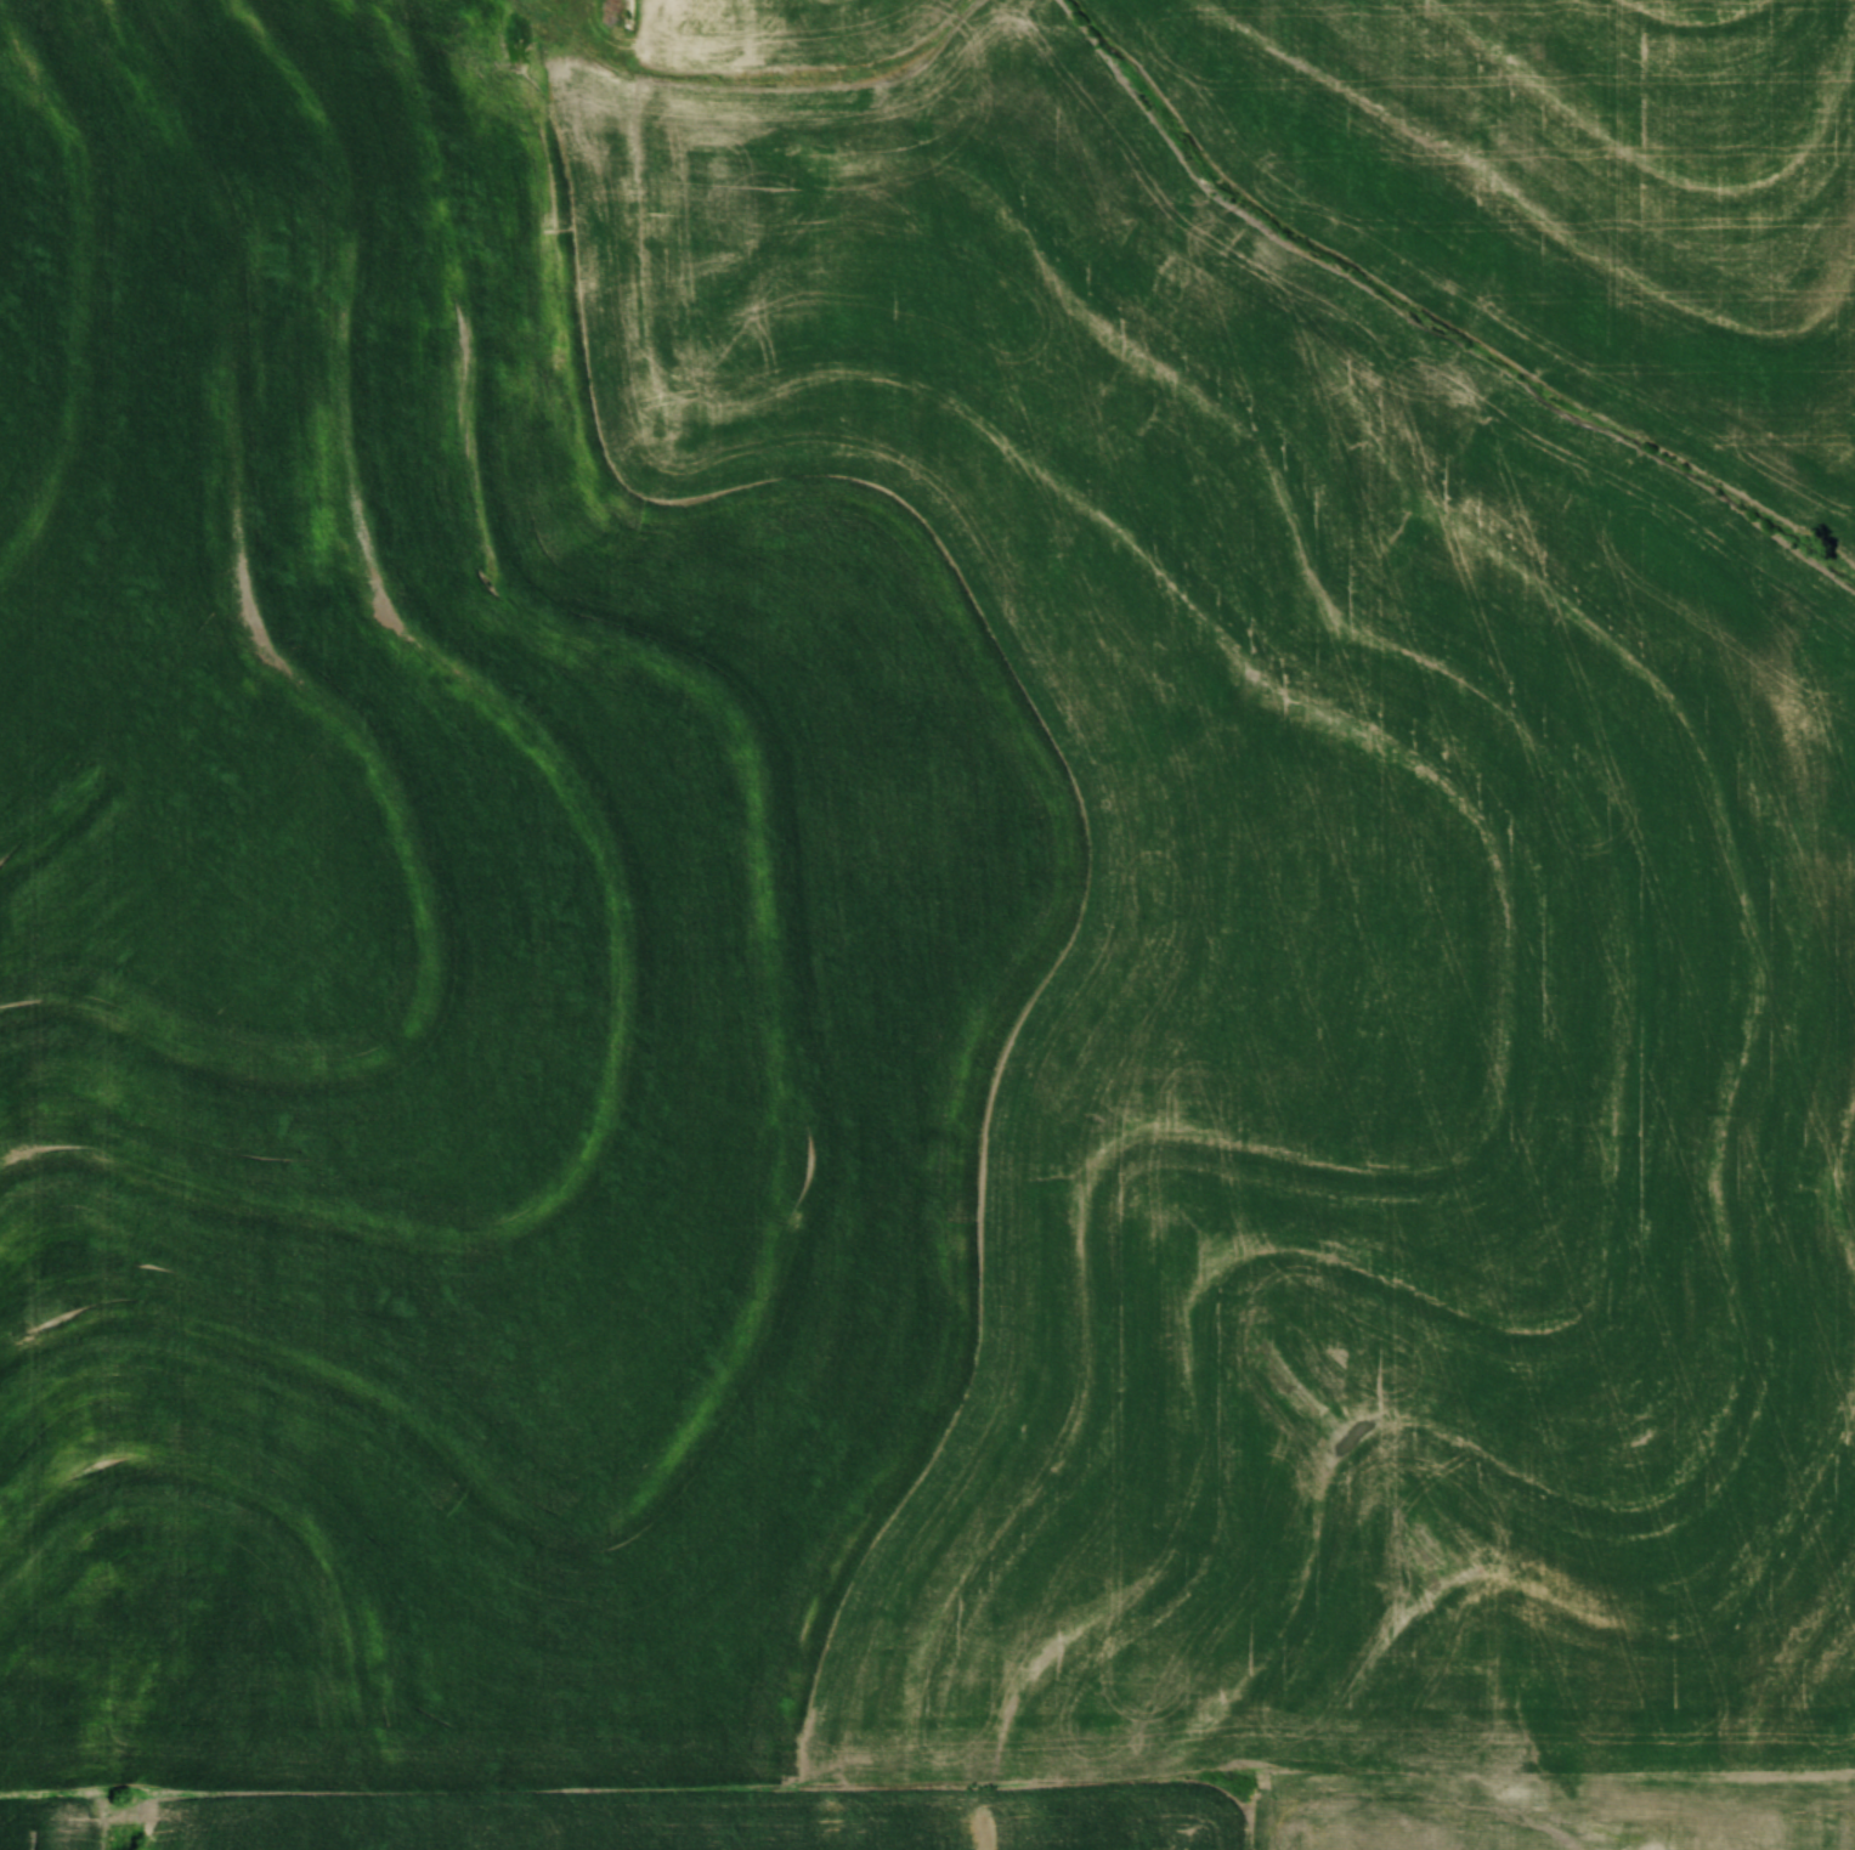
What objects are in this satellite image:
road: (618, 16)

